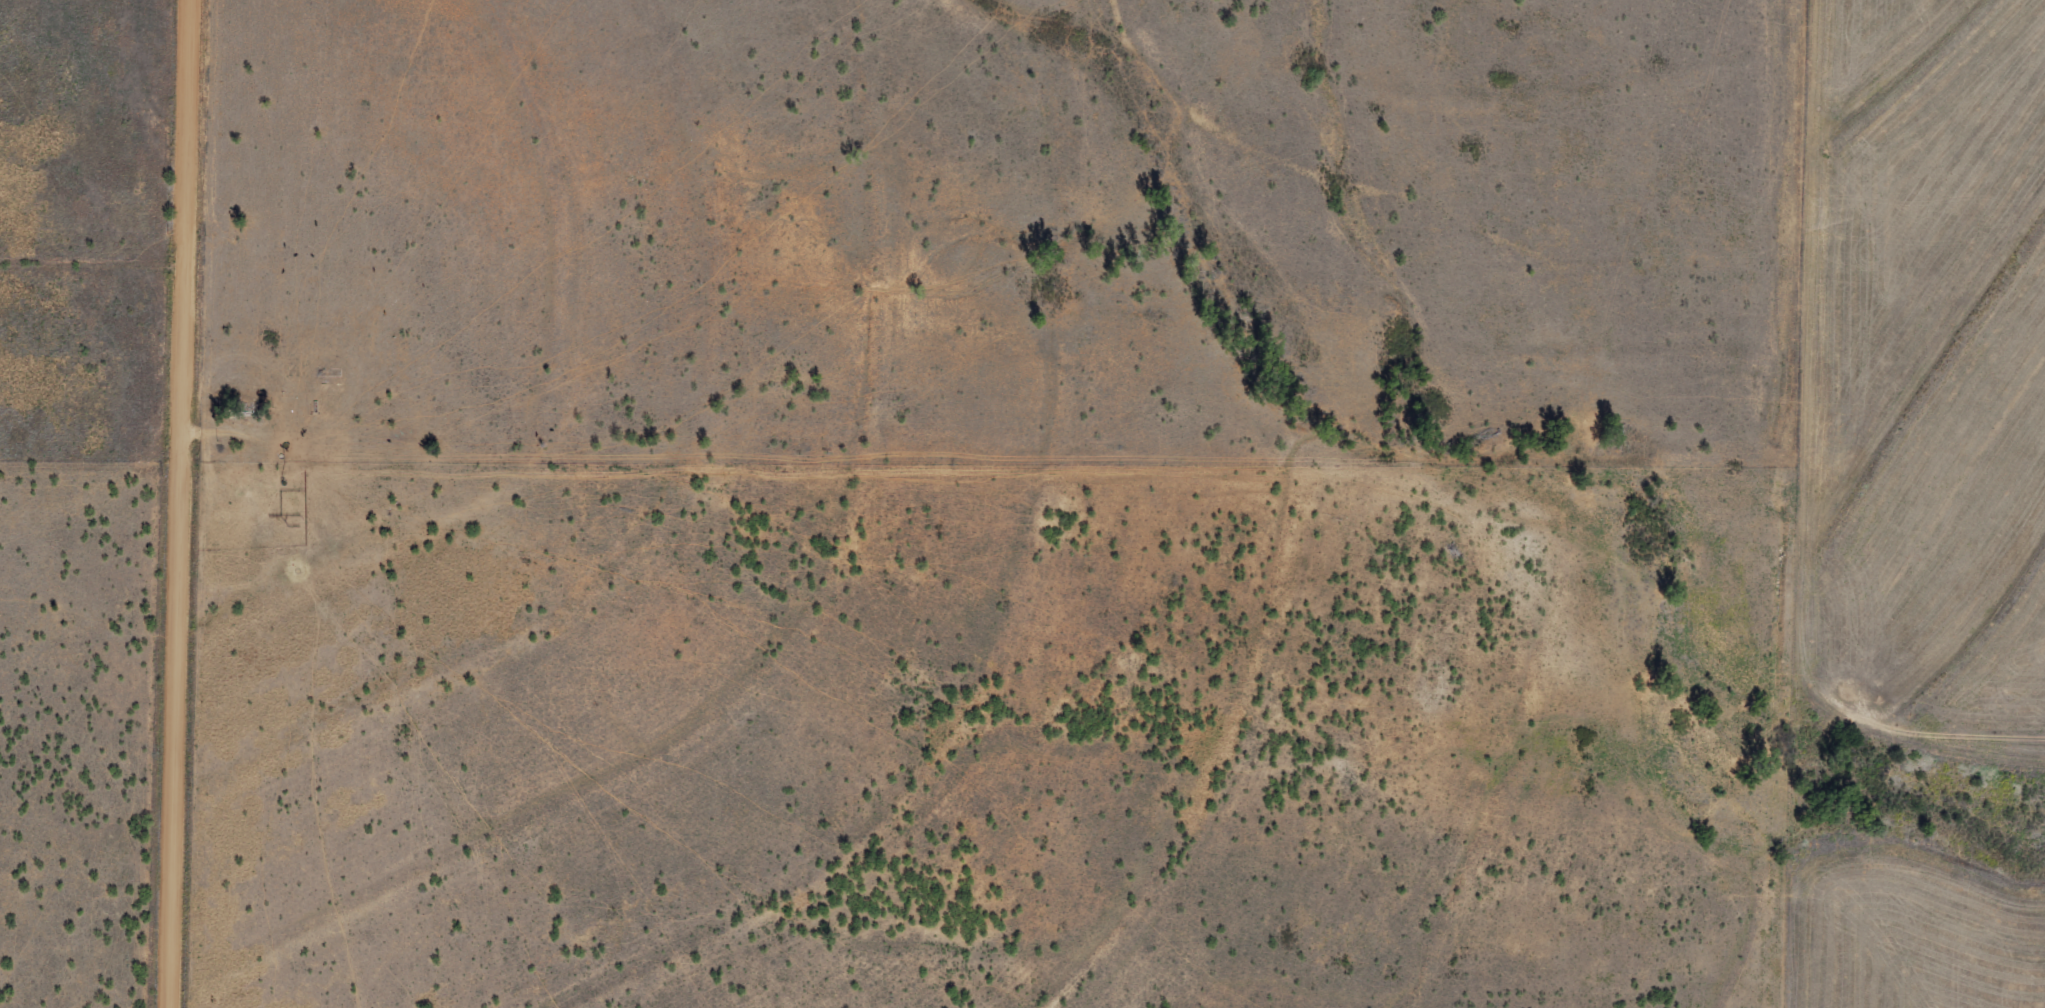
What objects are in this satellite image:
road: (184, 504)

